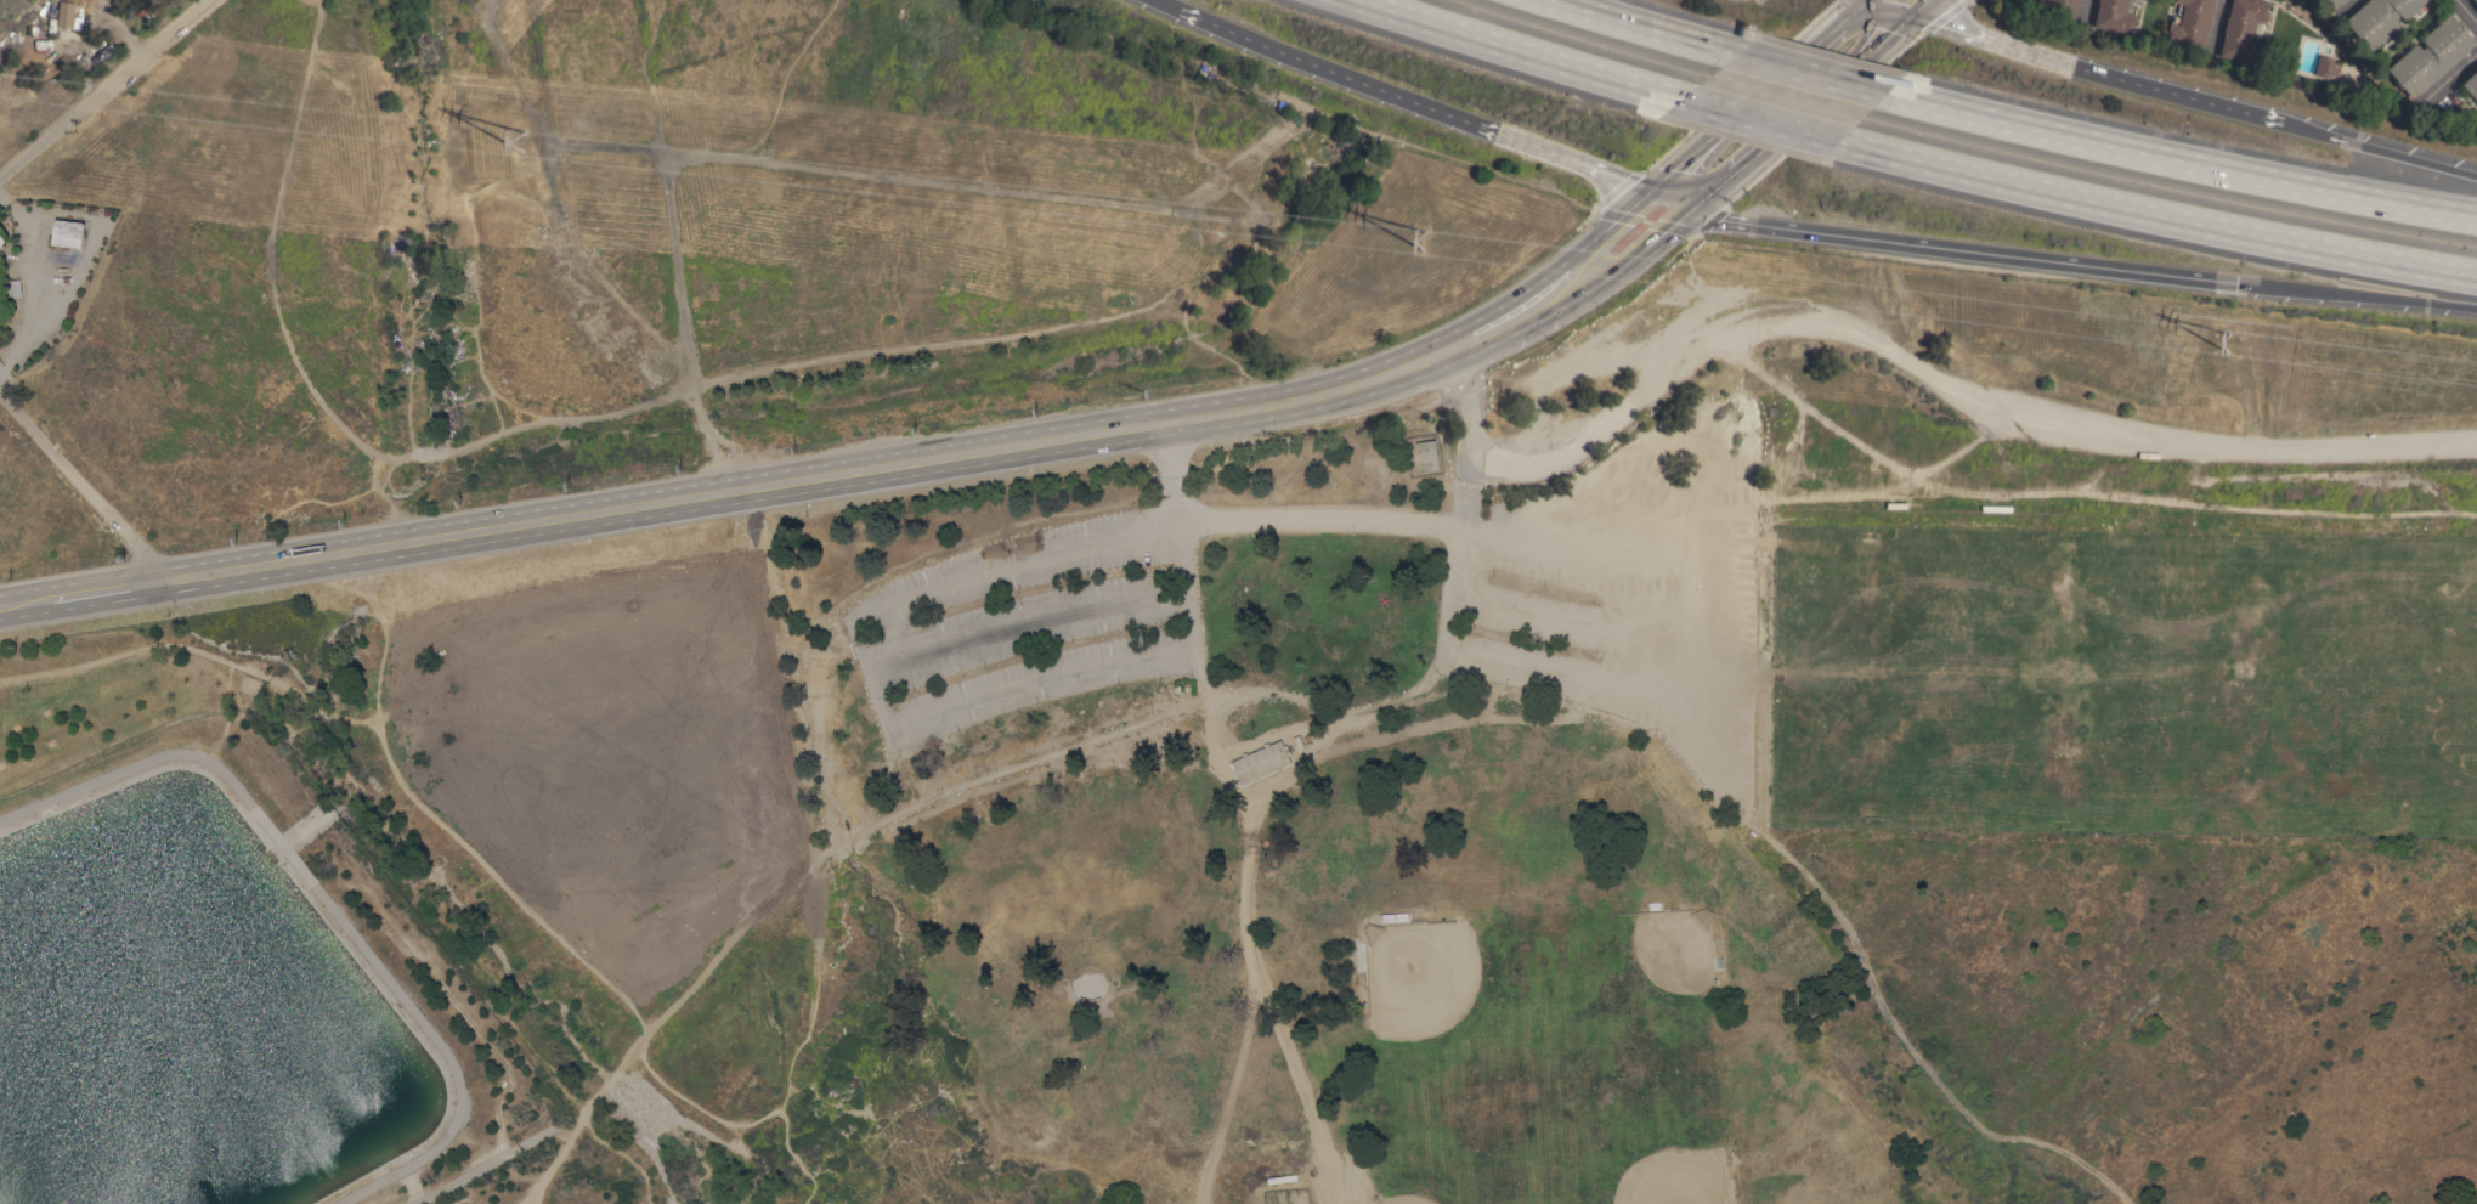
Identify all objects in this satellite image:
building: (2476, 0)
building: (2336, 2)
road: (1164, 6)
road: (1905, 6)
road: (1925, 6)
building: (2059, 6)
road: (2083, 6)
road: (2345, 6)
building: (67, 13)
traffic signals: (1918, 13)
building: (2115, 15)
road: (2464, 15)
building: (2381, 18)
building: (2192, 22)
road: (119, 28)
road: (1646, 28)
building: (2244, 29)
road: (1522, 51)
building: (2432, 56)
building: (2326, 66)
road: (2454, 70)
road: (1811, 74)
road: (2099, 78)
building: (2472, 84)
road: (102, 87)
road: (1758, 97)
road: (1414, 98)
road: (1806, 112)
road: (1760, 120)
power tower: (524, 146)
road: (2381, 151)
road: (2177, 162)
traffic signals: (1647, 194)
road: (1670, 202)
traffic signals: (1695, 210)
road: (2153, 216)
road: (1605, 230)
building: (67, 233)
building: (1, 239)
power tower: (1427, 243)
road: (1964, 250)
road: (1636, 251)
traffic signals: (2236, 283)
building: (16, 288)
road: (2356, 295)
road: (27, 306)
road: (1512, 315)
power tower: (2234, 343)
road: (1944, 383)
road: (1466, 441)
building: (1426, 456)
road: (805, 479)
road: (79, 487)
road: (1732, 511)
road: (1183, 549)
parking lot: (1040, 558)
road: (1590, 571)
parking lot: (1624, 587)
road: (106, 589)
road: (27, 600)
road: (1537, 610)
road: (1025, 621)
parking lot: (1029, 626)
road: (1442, 658)
road: (867, 674)
park: (1872, 677)
park: (2062, 679)
parking lot: (1042, 682)
park: (2245, 685)
park: (2408, 686)
road: (1325, 729)
road: (1260, 737)
building: (1260, 761)
road: (983, 779)
road: (1255, 943)
park: (216, 949)
park: (1656, 971)
park: (1432, 977)
road: (620, 1064)
park: (1663, 1154)
park: (1443, 1158)

